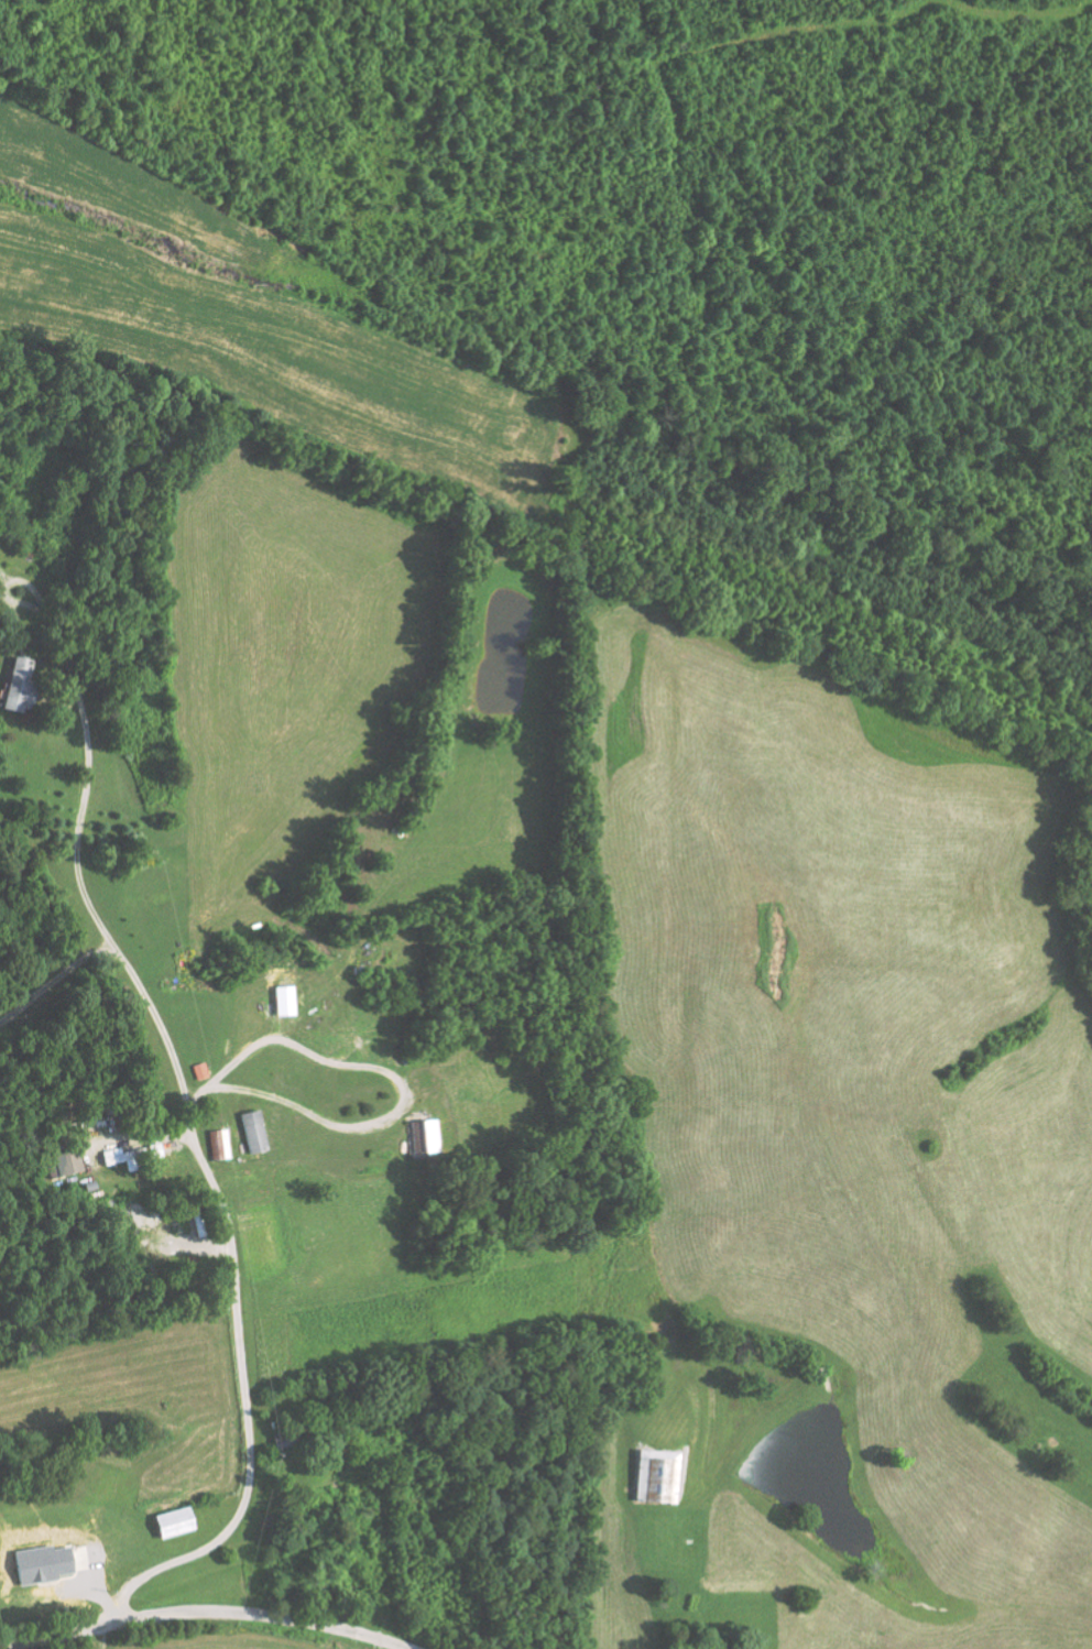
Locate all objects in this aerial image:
building: (17, 686)
building: (283, 1000)
building: (252, 1131)
building: (424, 1135)
building: (219, 1144)
building: (61, 1162)
building: (656, 1475)
building: (173, 1521)
road: (204, 1609)

